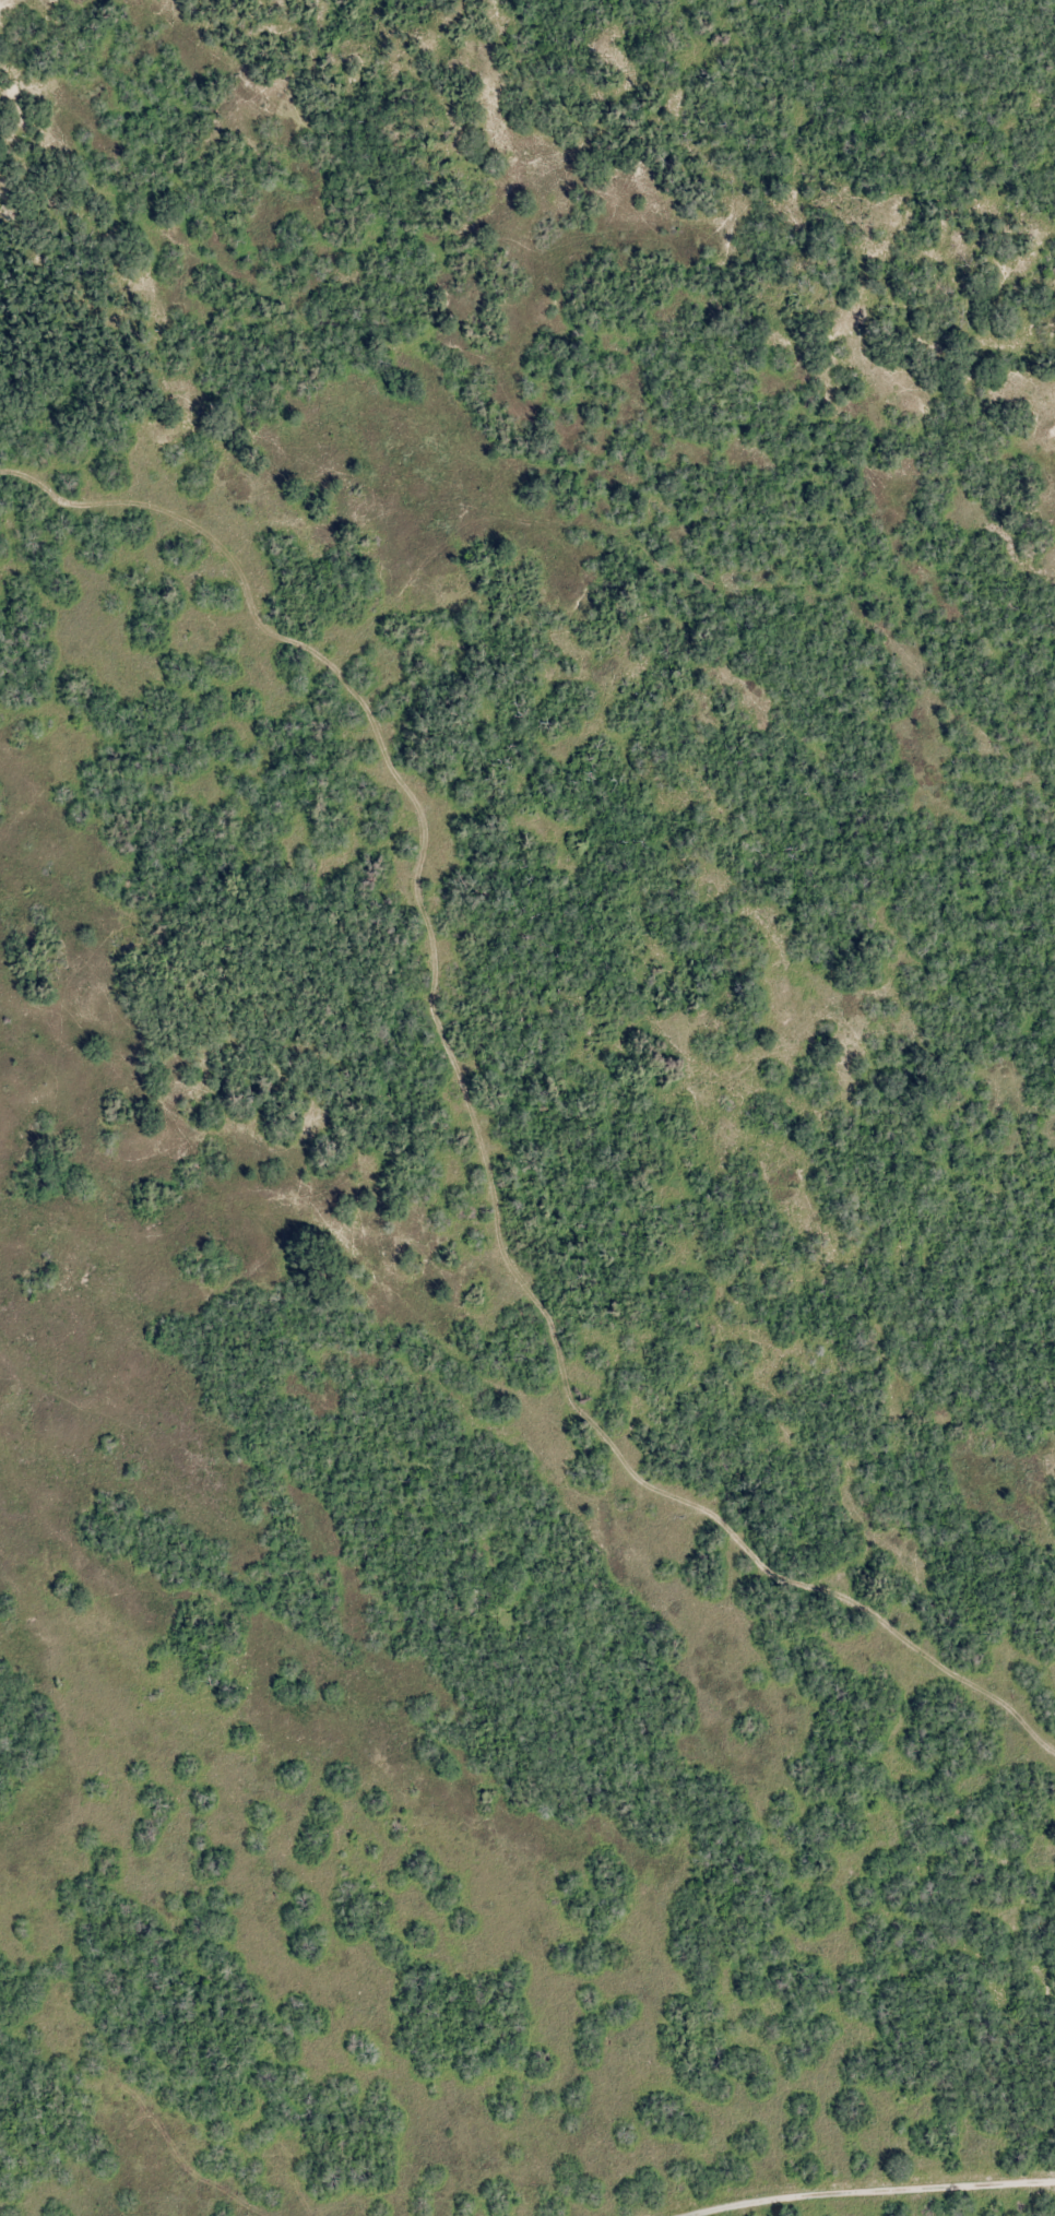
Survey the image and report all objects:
road: (872, 2180)

